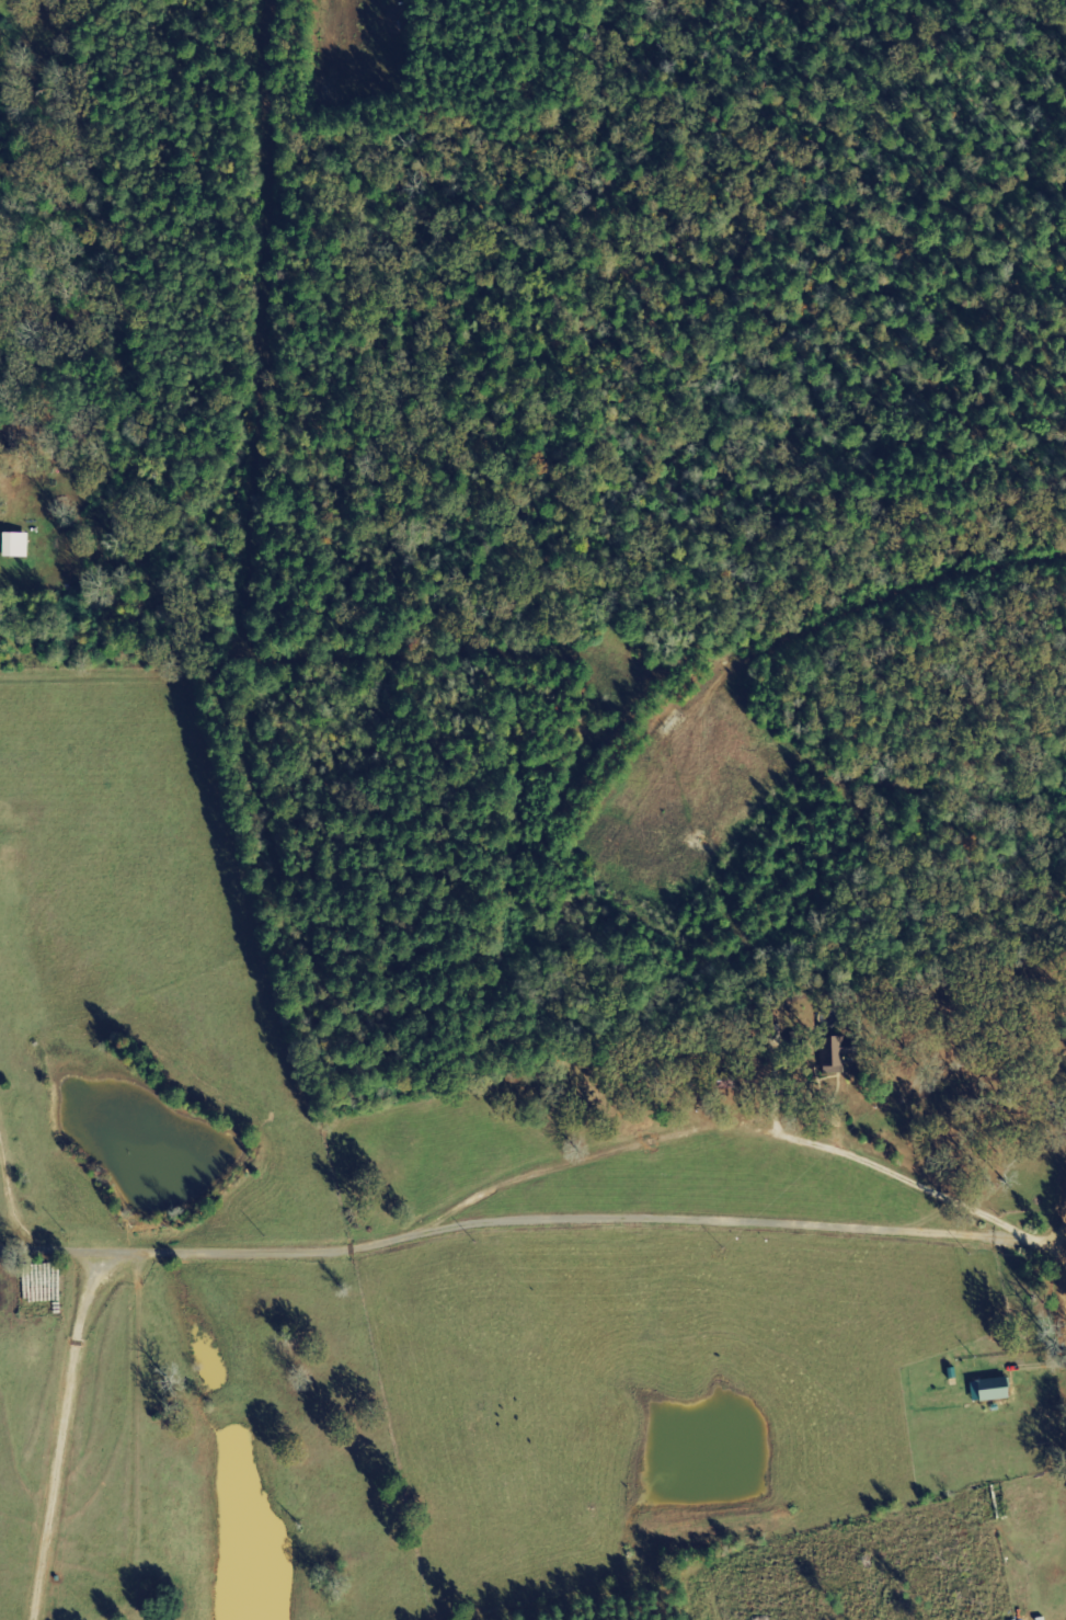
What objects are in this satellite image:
building: (18, 545)
building: (837, 1051)
road: (527, 1172)
road: (1065, 1233)
building: (994, 1389)

